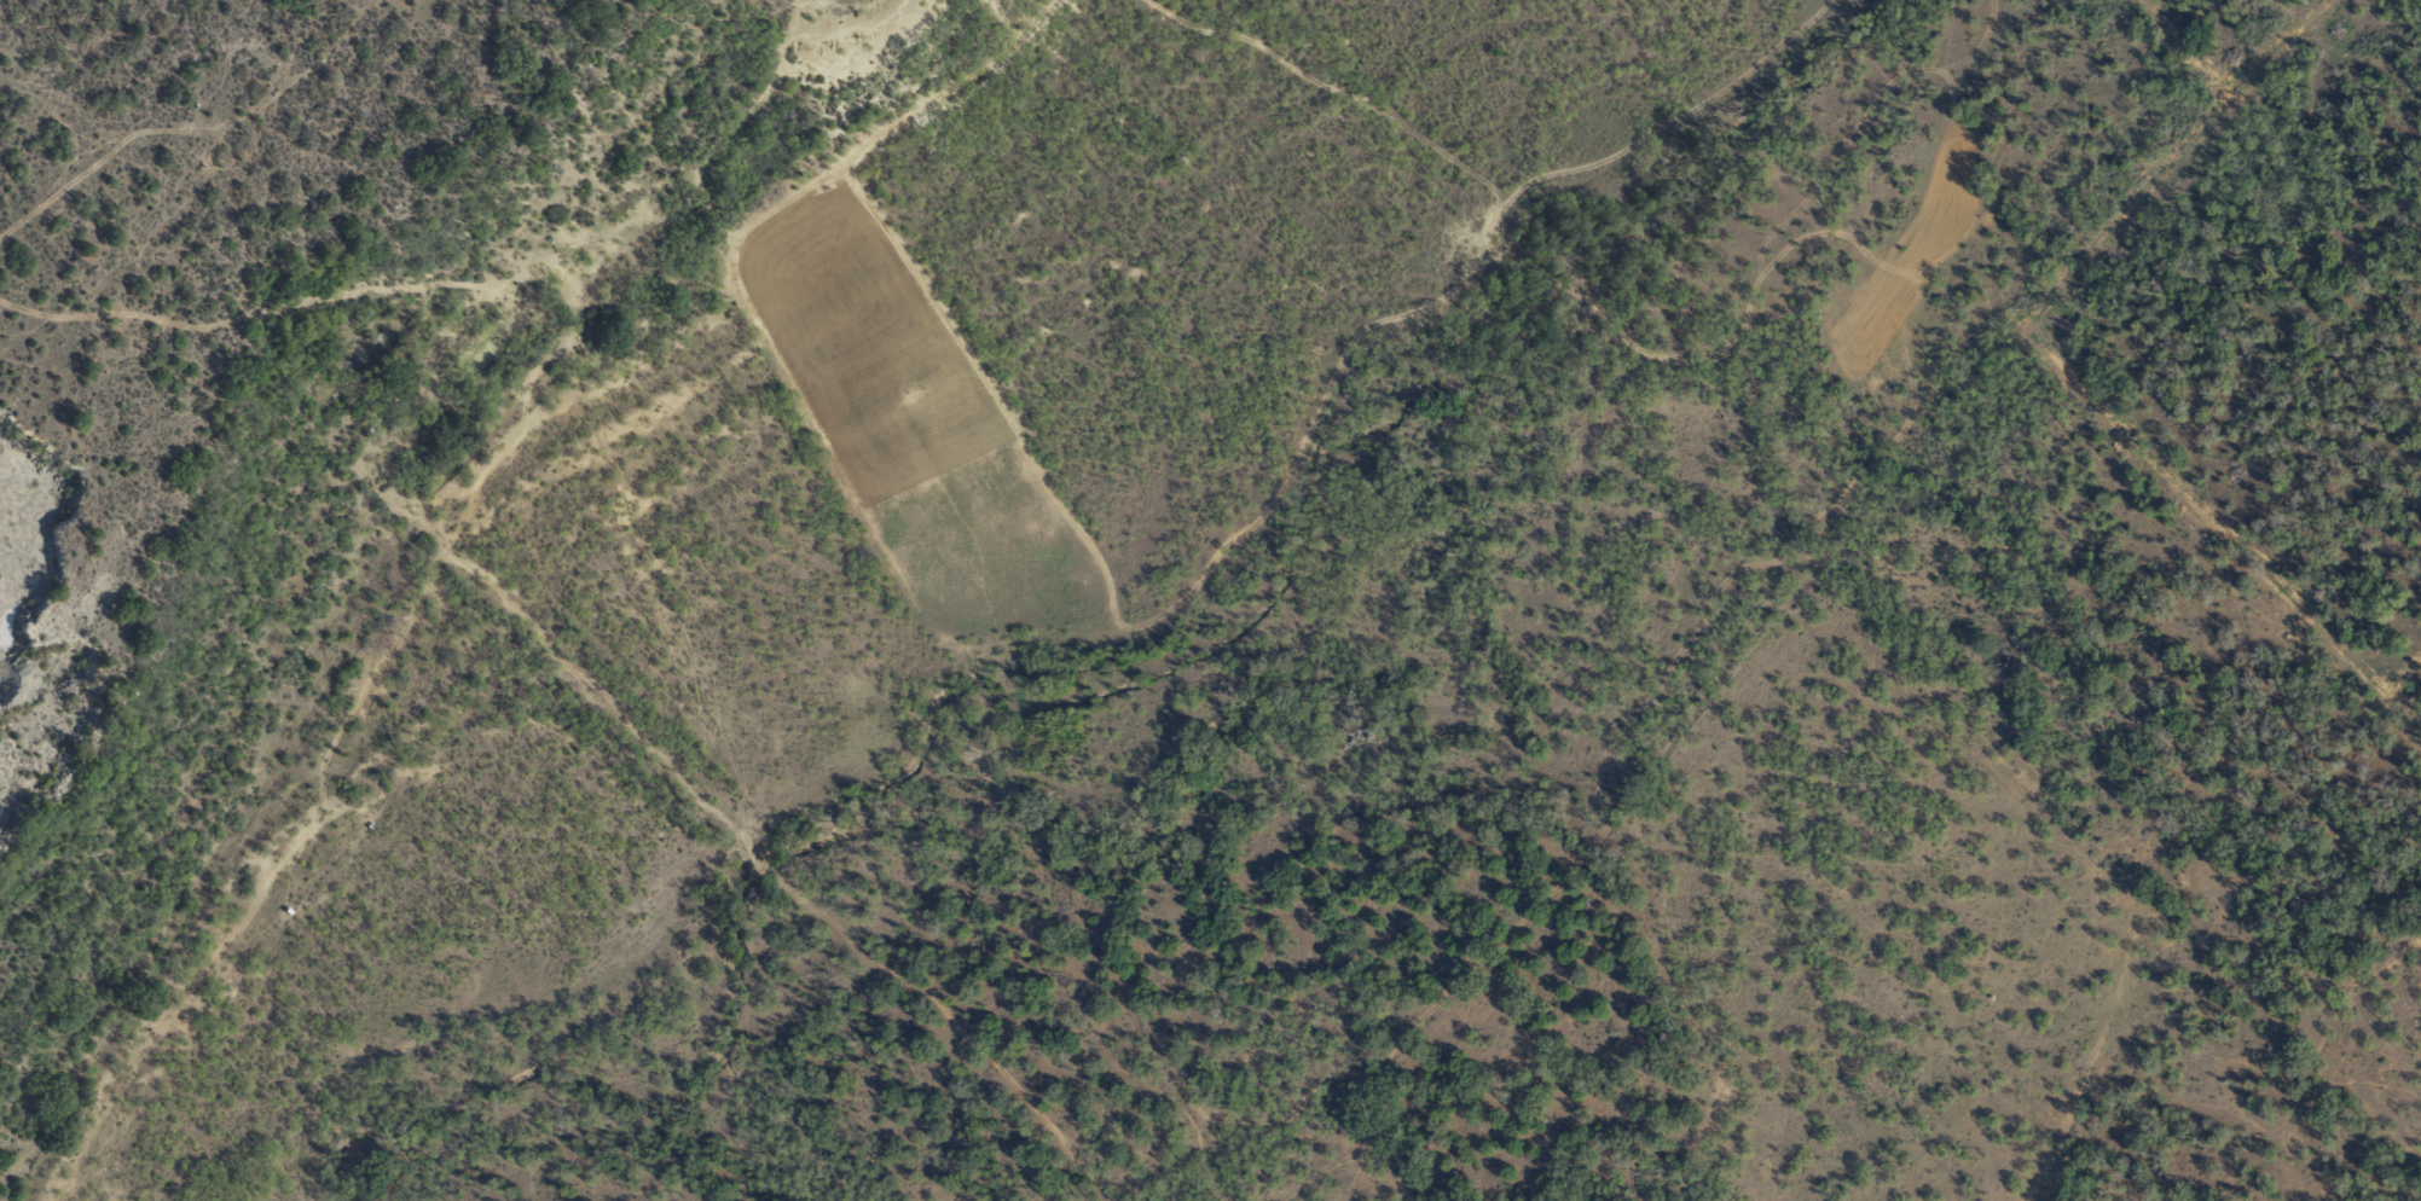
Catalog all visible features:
road: (787, 108)

